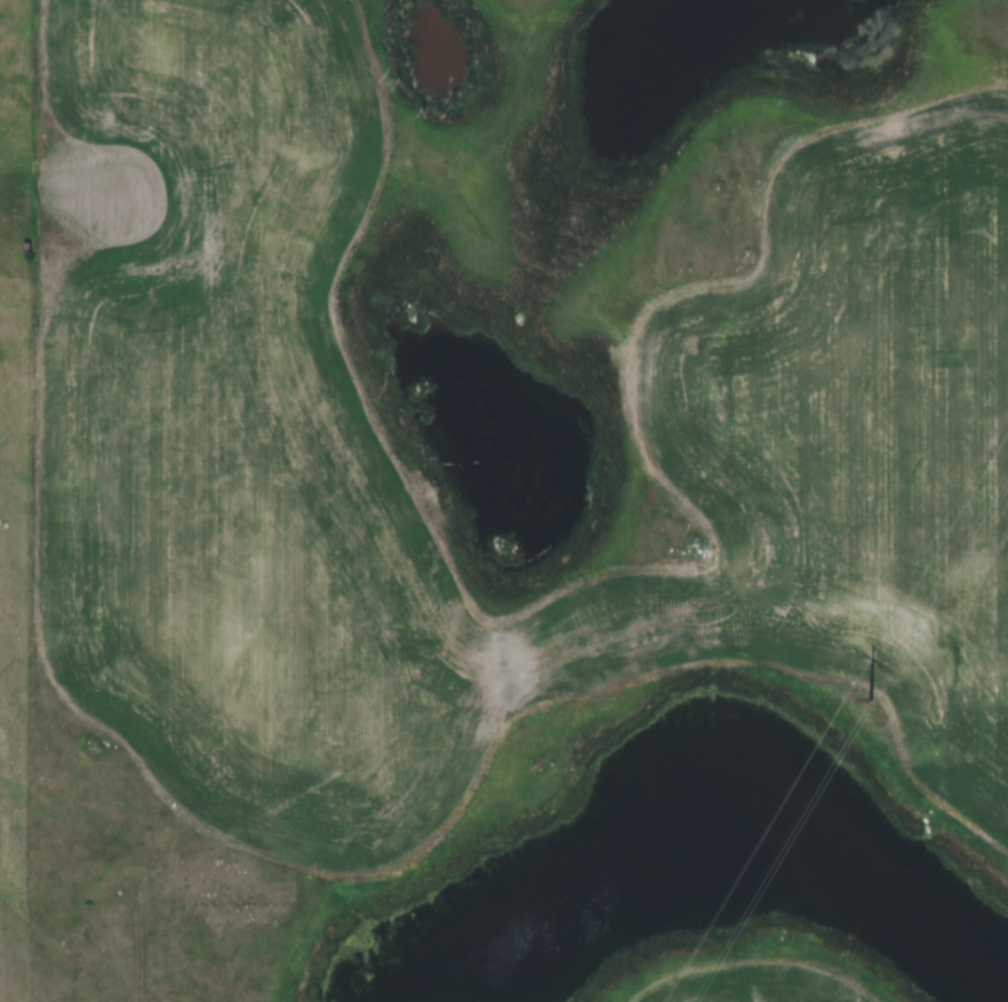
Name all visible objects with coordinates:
power tower: (863, 685)

